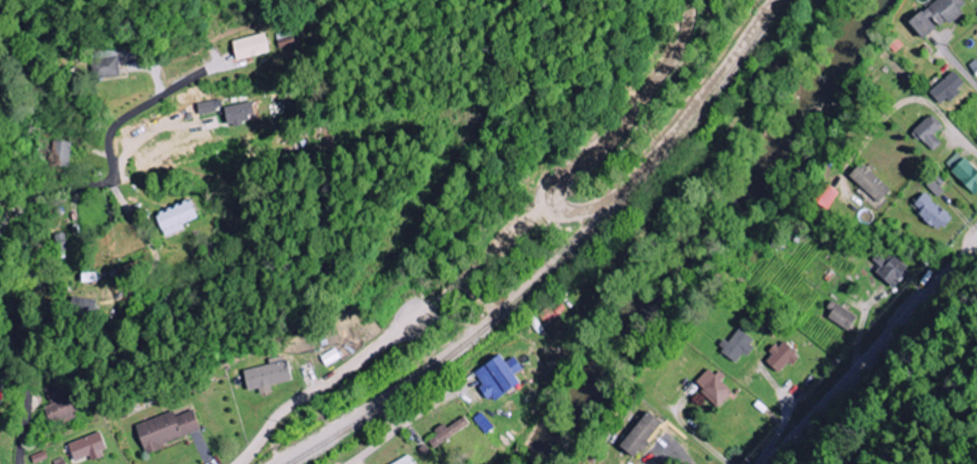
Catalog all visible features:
building: (939, 16)
building: (288, 39)
building: (254, 46)
building: (106, 63)
road: (961, 68)
building: (948, 88)
road: (642, 99)
building: (212, 106)
building: (241, 113)
road: (947, 123)
building: (929, 133)
building: (62, 153)
building: (964, 170)
building: (871, 182)
building: (936, 188)
building: (933, 212)
building: (180, 218)
road: (34, 219)
river: (705, 231)
building: (62, 242)
railway: (558, 260)
building: (891, 269)
building: (88, 306)
building: (549, 315)
building: (841, 316)
road: (410, 325)
building: (738, 345)
road: (871, 351)
building: (334, 356)
building: (781, 357)
building: (270, 375)
building: (502, 377)
building: (714, 386)
building: (3, 392)
building: (0, 404)
building: (61, 404)
building: (485, 423)
building: (169, 429)
building: (450, 431)
building: (643, 434)
road: (378, 444)
building: (90, 448)
building: (41, 457)
building: (61, 461)
building: (408, 461)
building: (660, 463)

